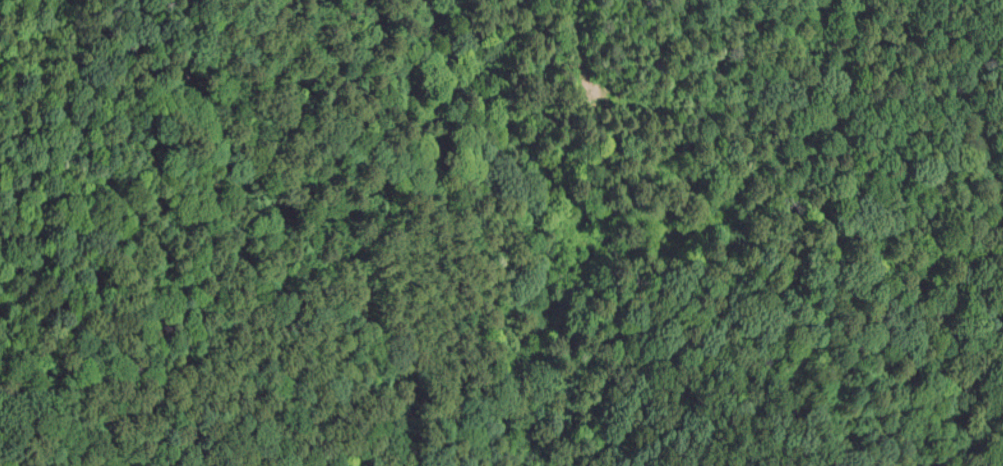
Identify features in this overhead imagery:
road: (593, 84)

